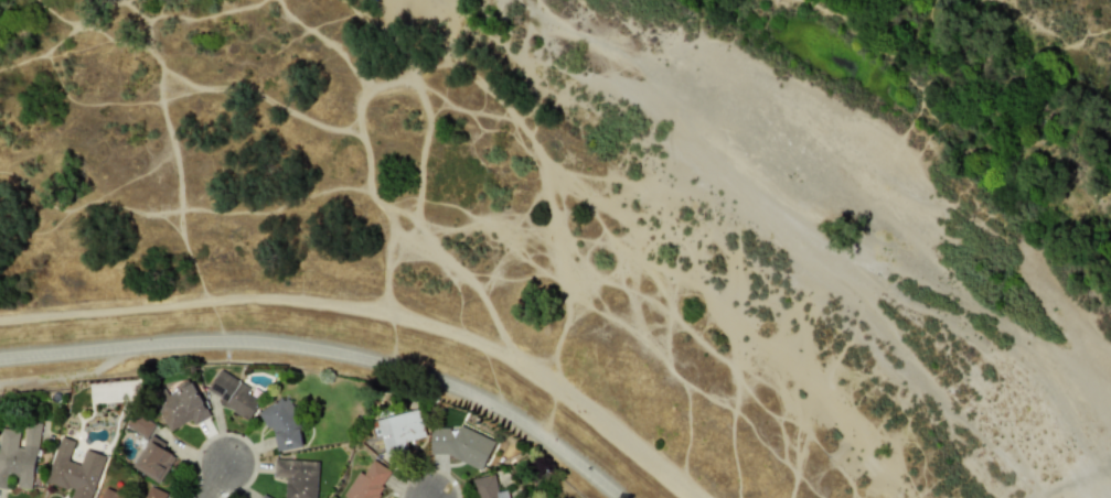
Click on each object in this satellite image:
road: (381, 231)
road: (562, 302)
road: (372, 308)
road: (327, 351)
building: (231, 392)
building: (181, 407)
building: (139, 424)
building: (281, 425)
building: (399, 430)
building: (459, 445)
building: (18, 456)
building: (152, 458)
building: (74, 469)
building: (297, 477)
road: (217, 481)
building: (367, 481)
building: (487, 487)
park: (548, 489)
building: (152, 492)
building: (110, 494)
building: (261, 497)

